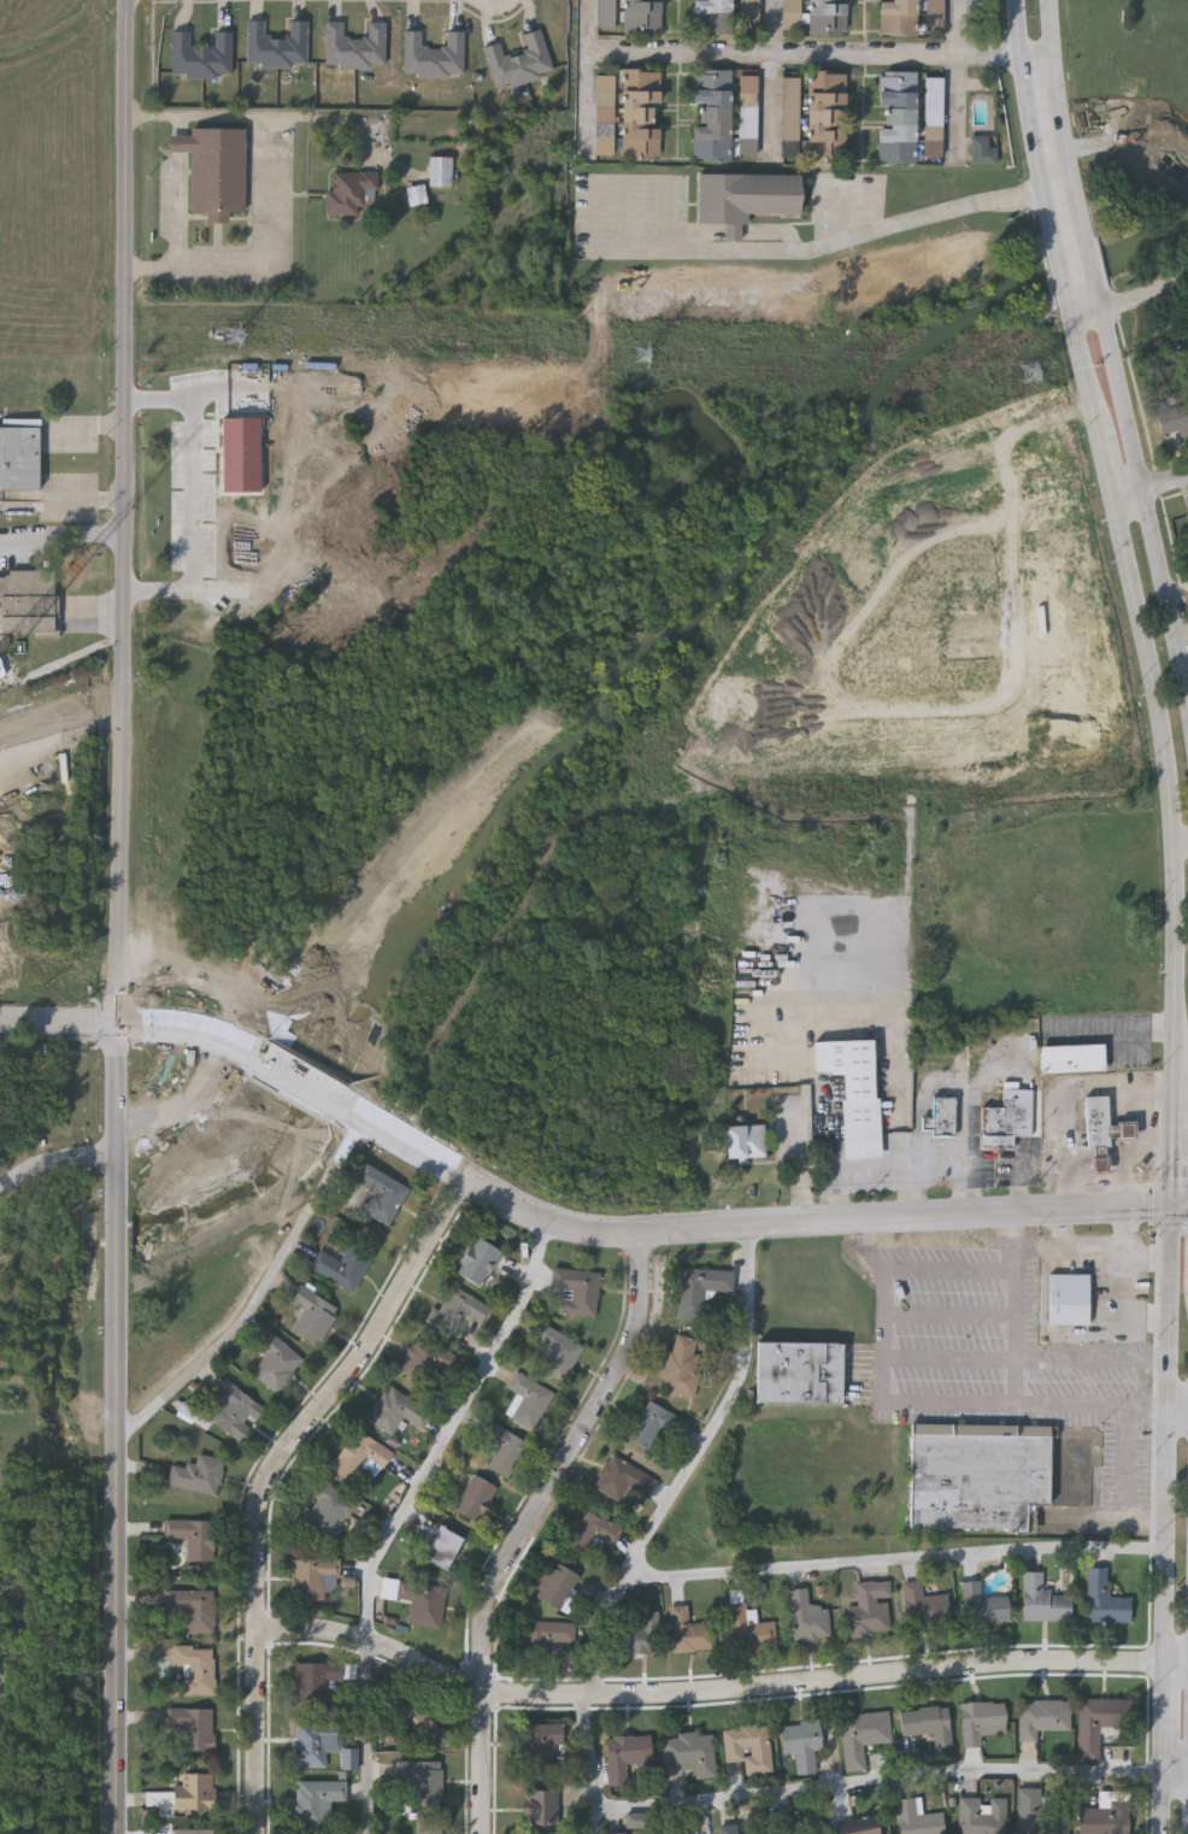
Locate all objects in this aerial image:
building: (642, 16)
building: (714, 17)
building: (827, 17)
building: (899, 18)
building: (277, 46)
building: (355, 47)
building: (434, 55)
road: (821, 55)
building: (202, 57)
building: (519, 61)
road: (774, 76)
road: (961, 77)
road: (589, 80)
building: (640, 113)
building: (712, 114)
road: (1059, 114)
building: (788, 116)
building: (825, 116)
road: (255, 117)
building: (898, 117)
road: (1028, 117)
building: (749, 118)
road: (182, 124)
park: (1139, 141)
building: (981, 152)
park: (1139, 159)
building: (214, 167)
building: (440, 170)
building: (349, 190)
building: (745, 198)
road: (182, 211)
road: (600, 213)
road: (624, 213)
road: (835, 241)
road: (1089, 261)
road: (269, 266)
road: (1061, 268)
road: (1146, 294)
road: (1100, 302)
road: (1071, 308)
road: (1088, 313)
power tower: (223, 337)
power tower: (646, 360)
road: (1084, 368)
power tower: (1033, 374)
road: (1122, 400)
building: (1174, 419)
building: (19, 459)
road: (1105, 459)
road: (1164, 482)
road: (1128, 494)
road: (84, 496)
road: (193, 499)
building: (1187, 513)
road: (58, 536)
road: (1161, 586)
building: (27, 605)
road: (1186, 692)
road: (1170, 774)
road: (1181, 840)
road: (119, 917)
road: (118, 1005)
road: (100, 1024)
traffic signals: (120, 1024)
road: (151, 1024)
road: (135, 1025)
road: (1117, 1028)
road: (117, 1045)
building: (748, 1046)
building: (1071, 1058)
road: (941, 1078)
road: (320, 1093)
building: (853, 1093)
road: (1070, 1095)
building: (943, 1116)
building: (1096, 1123)
building: (998, 1124)
road: (1176, 1129)
building: (743, 1141)
road: (1160, 1145)
road: (1139, 1148)
road: (55, 1168)
building: (377, 1192)
traffic signals: (1176, 1204)
road: (1182, 1204)
road: (748, 1224)
road: (1040, 1247)
road: (1098, 1247)
road: (1149, 1247)
building: (477, 1259)
building: (341, 1264)
road: (947, 1271)
building: (698, 1287)
building: (575, 1288)
road: (260, 1294)
building: (1068, 1299)
road: (1131, 1301)
road: (1014, 1305)
building: (457, 1310)
building: (310, 1313)
road: (948, 1316)
road: (1151, 1319)
building: (557, 1351)
building: (425, 1359)
road: (1025, 1359)
building: (276, 1362)
building: (682, 1364)
building: (798, 1371)
road: (1147, 1381)
building: (527, 1399)
road: (945, 1400)
building: (225, 1410)
building: (395, 1410)
building: (655, 1424)
building: (501, 1448)
road: (1168, 1451)
building: (359, 1456)
building: (196, 1473)
building: (977, 1474)
road: (269, 1475)
building: (623, 1480)
road: (1128, 1480)
building: (474, 1497)
building: (323, 1512)
road: (407, 1513)
road: (1087, 1518)
road: (531, 1523)
road: (653, 1523)
building: (589, 1530)
building: (192, 1534)
building: (441, 1545)
road: (894, 1559)
building: (310, 1576)
building: (553, 1583)
building: (1104, 1597)
building: (1042, 1599)
building: (422, 1600)
building: (982, 1603)
building: (923, 1605)
building: (192, 1606)
building: (870, 1606)
building: (806, 1616)
building: (748, 1627)
building: (688, 1629)
building: (639, 1633)
building: (545, 1634)
building: (194, 1668)
building: (311, 1681)
road: (718, 1688)
building: (412, 1716)
building: (1041, 1716)
building: (980, 1720)
building: (1098, 1721)
building: (192, 1726)
building: (922, 1729)
building: (863, 1735)
road: (1166, 1735)
building: (312, 1740)
building: (800, 1742)
building: (539, 1744)
building: (747, 1746)
building: (689, 1752)
building: (625, 1754)
building: (348, 1758)
road: (1176, 1773)
building: (420, 1776)
road: (880, 1781)
building: (194, 1791)
building: (316, 1799)
road: (1164, 1803)
building: (540, 1805)
building: (1042, 1810)
building: (1105, 1814)
building: (981, 1815)
building: (918, 1816)
building: (635, 1818)
building: (428, 1826)
building: (783, 1826)
building: (858, 1826)
building: (674, 1828)
building: (192, 1829)
building: (733, 1829)
building: (614, 1832)
building: (810, 1833)

